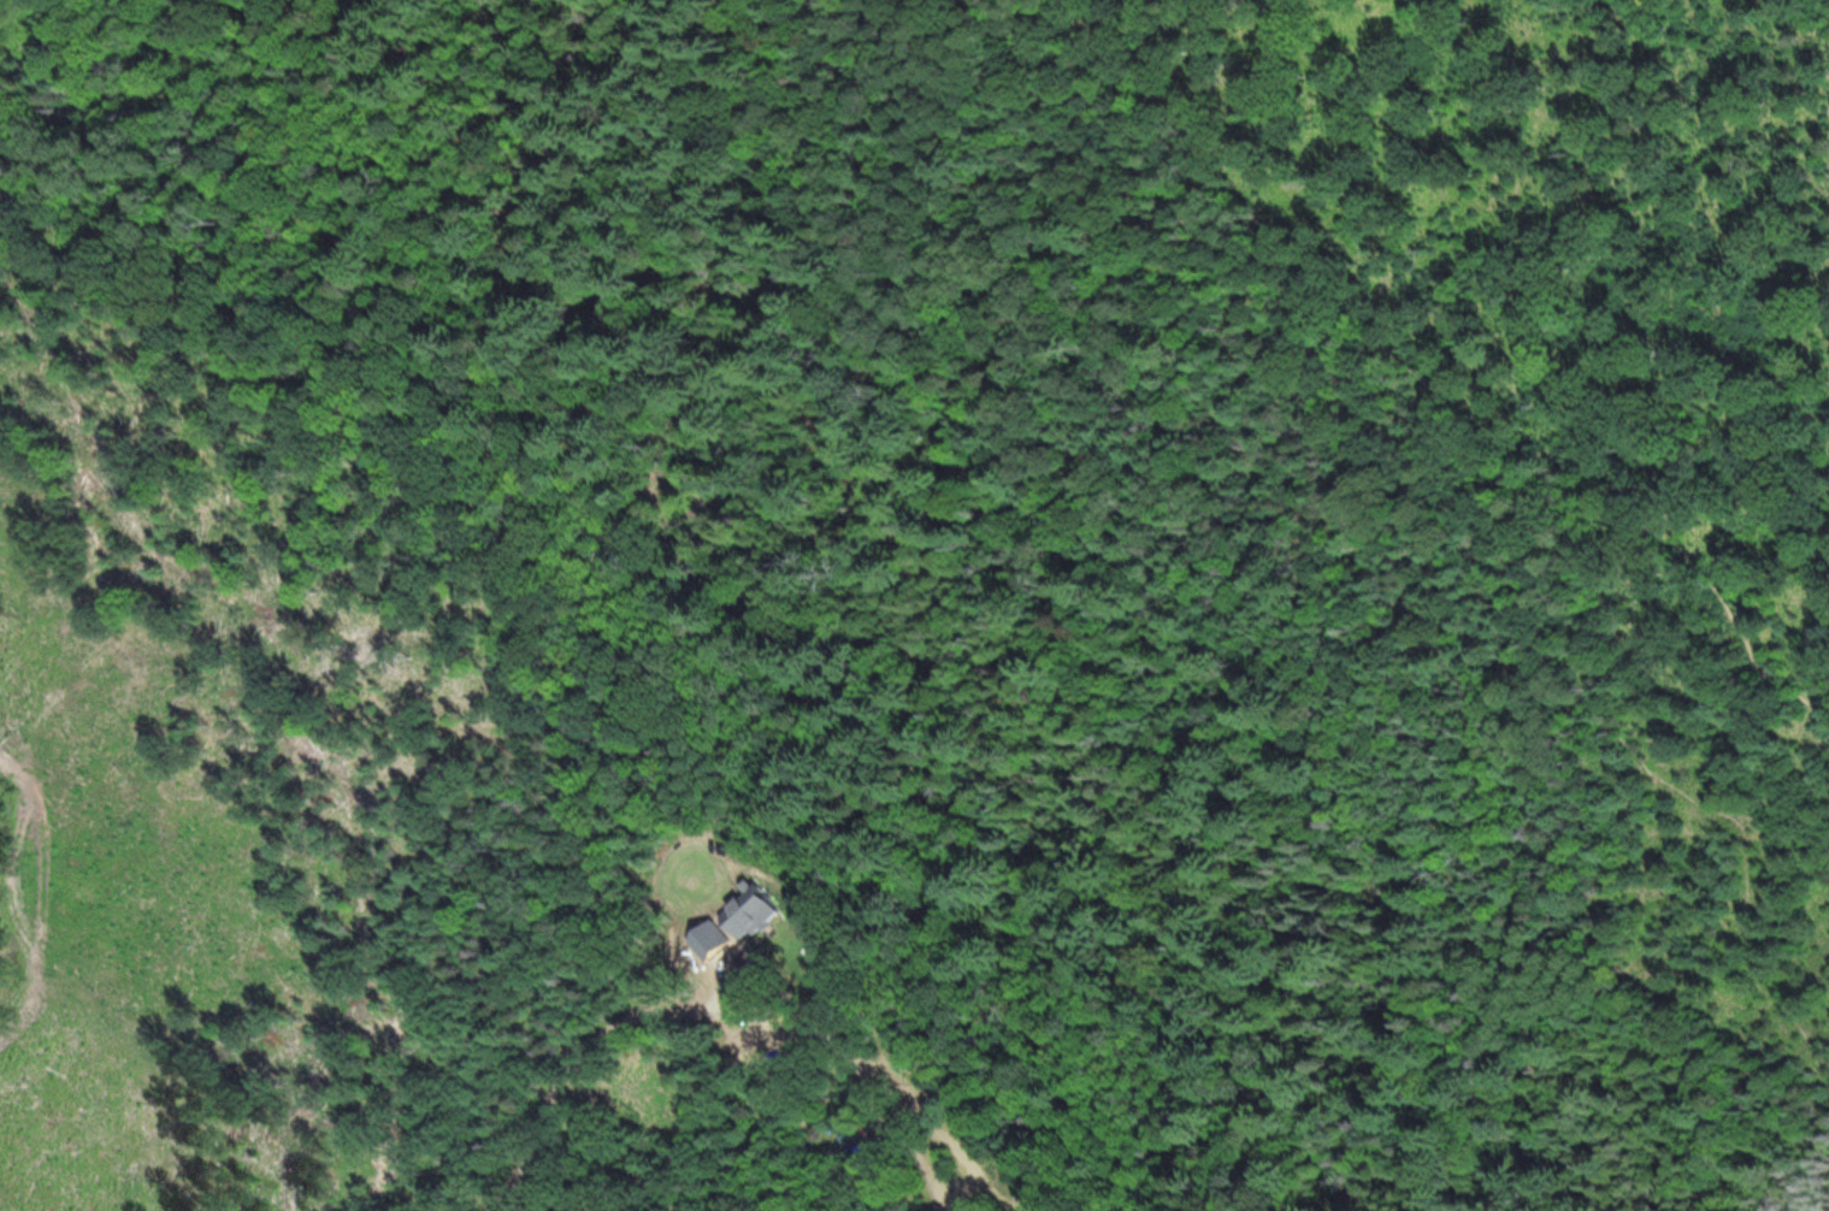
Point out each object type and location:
road: (1409, 373)
road: (1334, 465)
road: (523, 992)
road: (672, 1009)
building: (854, 1132)
road: (615, 1141)
road: (921, 1162)

